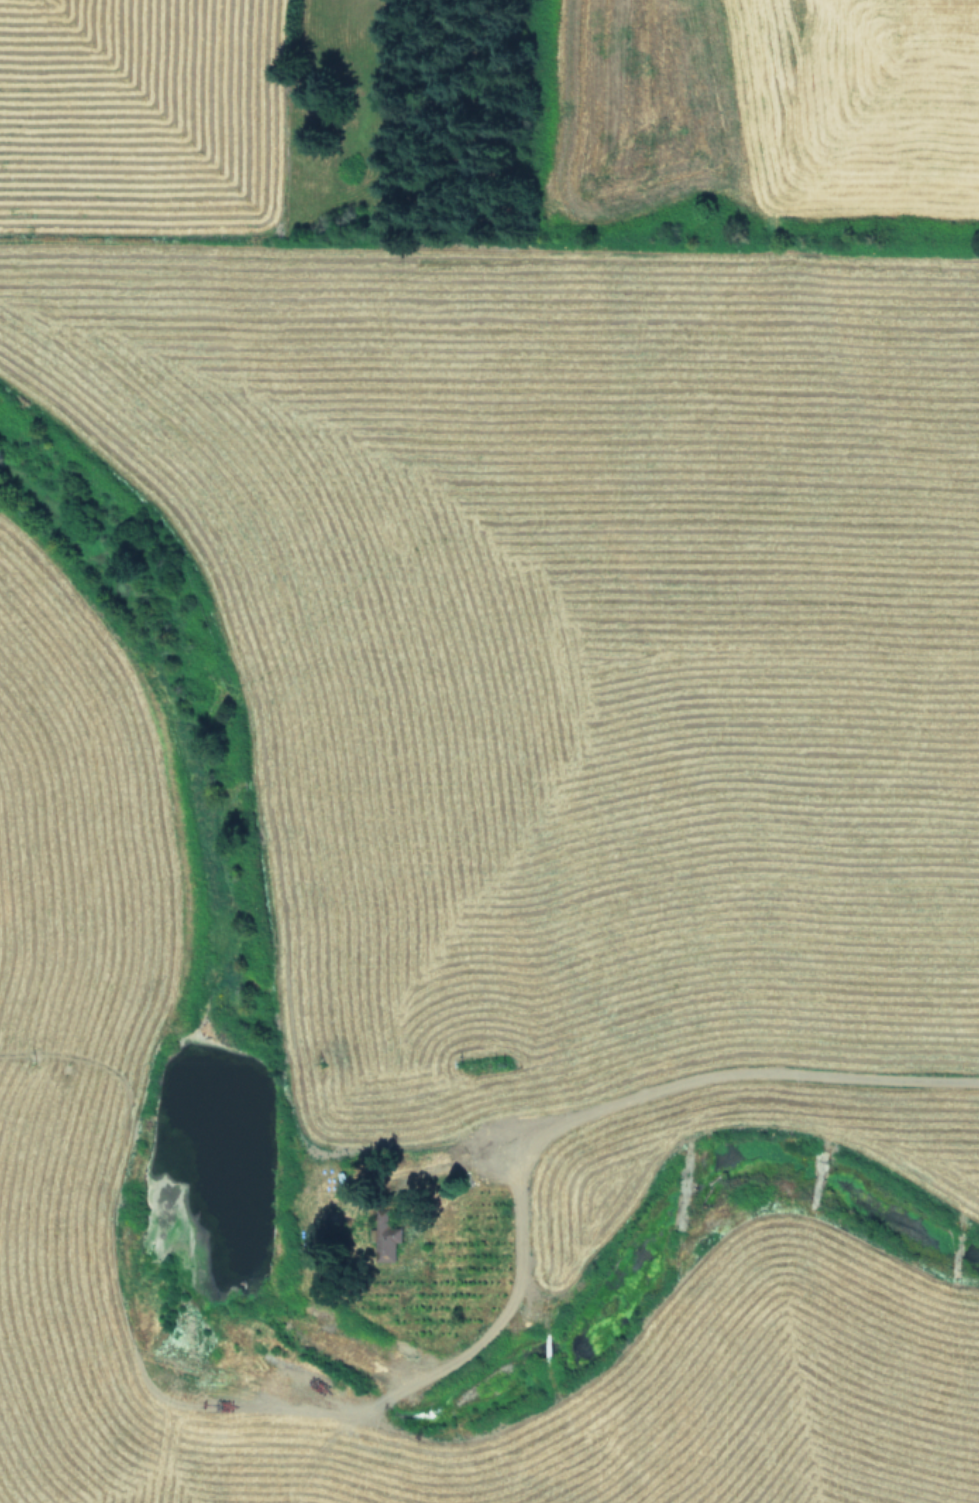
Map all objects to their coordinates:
crop: (489, 751)
road: (484, 1225)
building: (385, 1242)

